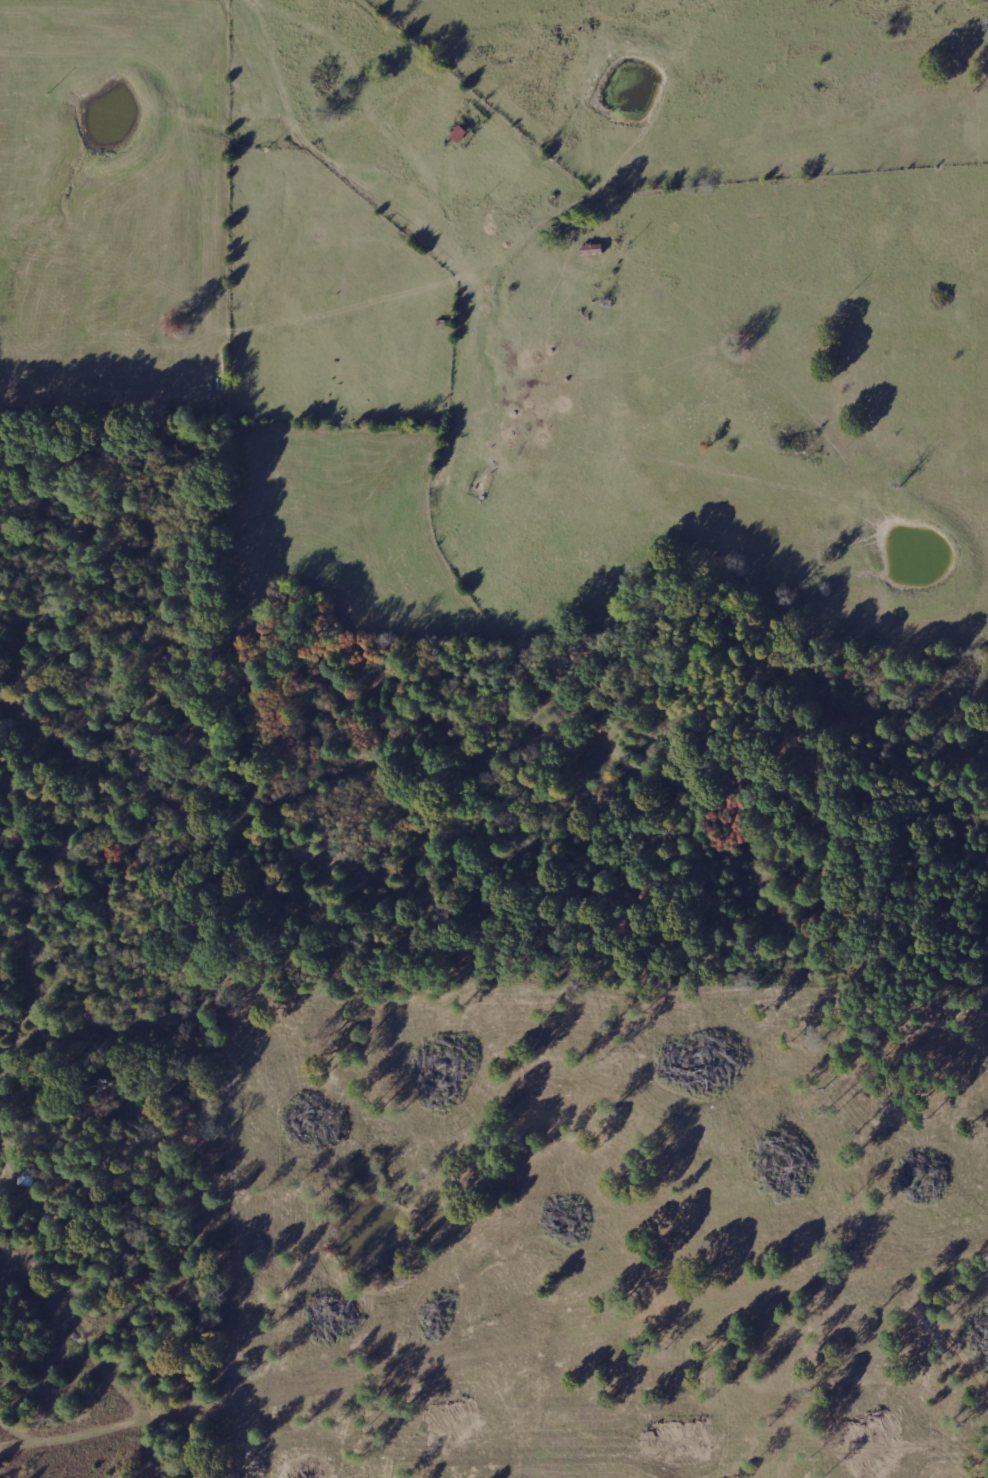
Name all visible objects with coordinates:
building: (460, 133)

